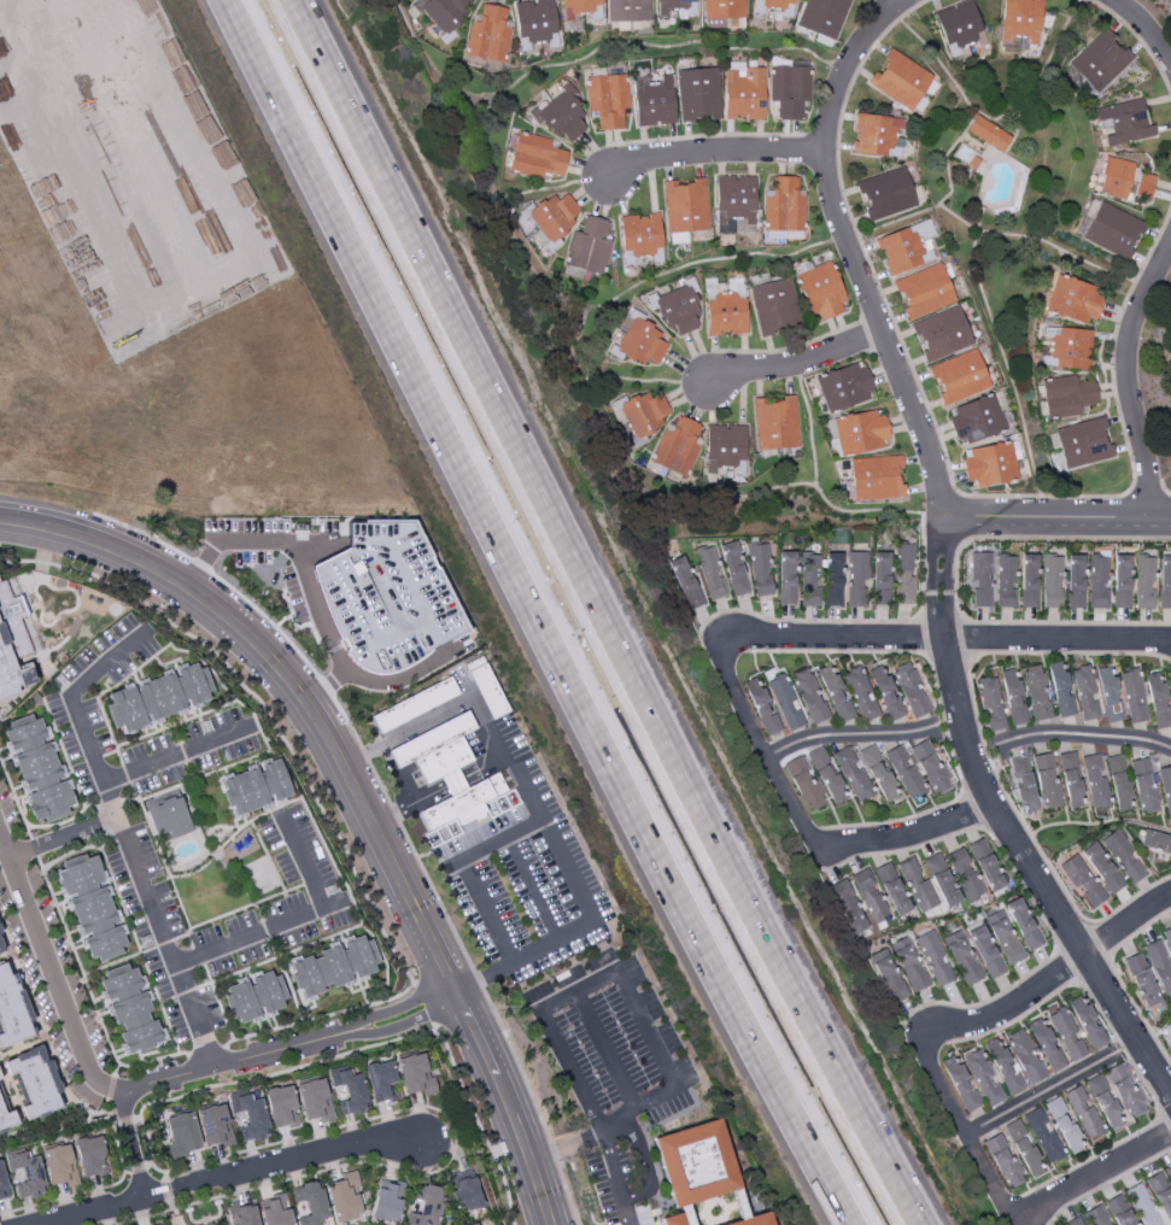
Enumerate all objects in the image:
road: (896, 1)
road: (917, 2)
building: (774, 5)
building: (580, 7)
building: (675, 7)
building: (724, 8)
building: (627, 10)
building: (822, 17)
building: (535, 19)
building: (1020, 20)
building: (959, 27)
road: (1144, 27)
building: (488, 35)
road: (1137, 40)
road: (587, 55)
building: (1100, 61)
road: (941, 64)
road: (843, 70)
road: (1040, 77)
building: (900, 80)
building: (789, 90)
building: (743, 92)
building: (697, 94)
building: (607, 100)
building: (654, 101)
building: (562, 116)
road: (993, 123)
building: (1123, 123)
building: (874, 134)
building: (988, 134)
road: (703, 136)
road: (819, 137)
road: (715, 151)
building: (535, 157)
road: (945, 159)
road: (1015, 162)
building: (1123, 180)
road: (538, 189)
building: (886, 193)
building: (734, 199)
building: (784, 205)
building: (685, 206)
building: (554, 216)
building: (1112, 230)
road: (994, 233)
building: (639, 235)
road: (844, 238)
building: (589, 246)
building: (906, 247)
road: (850, 253)
road: (679, 269)
building: (820, 291)
building: (924, 291)
building: (1073, 300)
building: (773, 306)
building: (725, 315)
road: (870, 318)
building: (942, 334)
road: (578, 338)
building: (640, 342)
building: (1070, 348)
road: (784, 351)
road: (1002, 351)
road: (796, 363)
road: (1125, 375)
building: (959, 376)
road: (627, 379)
building: (844, 387)
building: (1066, 395)
building: (644, 414)
building: (977, 420)
building: (777, 423)
road: (810, 430)
building: (861, 432)
road: (604, 433)
building: (1082, 442)
building: (677, 446)
building: (725, 449)
road: (945, 457)
building: (989, 464)
building: (876, 477)
road: (1165, 490)
road: (1143, 498)
road: (1055, 517)
road: (964, 518)
road: (144, 534)
road: (943, 540)
road: (254, 541)
road: (947, 555)
road: (931, 556)
road: (200, 564)
building: (733, 569)
building: (759, 569)
road: (40, 573)
building: (710, 573)
building: (903, 574)
building: (786, 578)
building: (880, 578)
building: (855, 579)
building: (809, 580)
building: (832, 580)
road: (956, 580)
building: (979, 580)
building: (1097, 580)
building: (1003, 581)
building: (1027, 581)
building: (1050, 581)
building: (1073, 581)
building: (1120, 581)
building: (1164, 581)
building: (685, 582)
building: (1143, 582)
road: (74, 592)
building: (387, 597)
parking garage: (387, 597)
building: (8, 599)
road: (318, 608)
road: (538, 615)
road: (602, 615)
road: (944, 615)
building: (300, 616)
road: (936, 616)
road: (854, 621)
road: (268, 622)
road: (845, 637)
road: (739, 638)
road: (1056, 638)
road: (960, 641)
road: (456, 649)
road: (878, 652)
road: (1031, 653)
road: (207, 668)
building: (11, 670)
road: (373, 681)
road: (324, 688)
building: (487, 688)
building: (1170, 688)
building: (909, 690)
building: (1060, 691)
road: (103, 692)
building: (885, 692)
building: (1036, 692)
building: (860, 693)
building: (1084, 693)
building: (835, 694)
building: (1108, 694)
building: (809, 696)
building: (1132, 696)
building: (1012, 697)
building: (159, 698)
building: (783, 698)
building: (1157, 701)
building: (990, 704)
building: (414, 705)
building: (761, 708)
road: (346, 721)
road: (257, 722)
road: (943, 722)
road: (175, 723)
road: (408, 731)
road: (1068, 734)
road: (861, 737)
building: (437, 749)
road: (761, 749)
road: (986, 751)
road: (64, 754)
road: (175, 754)
road: (364, 755)
building: (929, 767)
building: (37, 768)
road: (486, 768)
road: (287, 772)
building: (903, 772)
building: (878, 773)
road: (125, 775)
road: (204, 775)
building: (826, 775)
building: (853, 775)
building: (1070, 780)
building: (455, 781)
building: (1046, 781)
road: (379, 783)
building: (1094, 783)
road: (455, 784)
building: (803, 784)
building: (1118, 784)
building: (1023, 785)
building: (1143, 786)
building: (256, 787)
building: (1165, 790)
road: (311, 795)
road: (357, 795)
road: (16, 799)
road: (128, 799)
road: (226, 802)
road: (109, 804)
road: (408, 805)
road: (972, 805)
road: (275, 809)
road: (929, 810)
building: (467, 811)
road: (394, 814)
building: (169, 817)
road: (103, 820)
road: (64, 823)
road: (1100, 823)
road: (906, 836)
road: (63, 837)
road: (125, 837)
road: (104, 839)
building: (1155, 842)
road: (33, 848)
road: (160, 855)
road: (213, 856)
building: (1123, 856)
road: (267, 857)
road: (332, 861)
road: (564, 863)
building: (985, 864)
road: (464, 868)
building: (1101, 868)
building: (965, 874)
road: (1034, 874)
park: (259, 877)
road: (233, 880)
building: (942, 880)
building: (1082, 881)
road: (1060, 885)
road: (533, 886)
building: (917, 886)
building: (892, 889)
road: (1024, 889)
road: (279, 893)
building: (868, 895)
road: (437, 898)
building: (848, 907)
building: (92, 909)
road: (221, 915)
road: (297, 918)
road: (128, 921)
building: (1023, 924)
road: (265, 931)
building: (1167, 937)
building: (1003, 938)
road: (189, 942)
road: (163, 943)
road: (1055, 944)
building: (0, 949)
road: (148, 950)
road: (271, 950)
building: (984, 950)
road: (286, 954)
road: (198, 956)
building: (961, 957)
building: (935, 959)
road: (383, 960)
road: (111, 963)
building: (909, 963)
building: (334, 966)
road: (614, 972)
building: (1149, 973)
building: (888, 975)
road: (1118, 979)
road: (1047, 980)
road: (478, 981)
road: (204, 985)
road: (414, 985)
road: (289, 989)
road: (185, 992)
road: (89, 995)
building: (254, 996)
road: (166, 1000)
road: (1043, 1001)
road: (218, 1002)
road: (426, 1004)
road: (405, 1006)
building: (130, 1008)
building: (12, 1009)
road: (410, 1022)
building: (1087, 1022)
road: (433, 1027)
building: (1066, 1034)
building: (1170, 1038)
building: (1046, 1044)
road: (607, 1048)
road: (1122, 1049)
road: (158, 1051)
road: (206, 1051)
road: (140, 1057)
building: (1025, 1057)
road: (517, 1065)
building: (1003, 1066)
road: (116, 1068)
building: (415, 1074)
building: (379, 1079)
building: (983, 1079)
road: (99, 1080)
building: (34, 1082)
building: (960, 1083)
road: (110, 1086)
road: (1053, 1088)
building: (1124, 1090)
building: (349, 1091)
road: (12, 1095)
building: (314, 1098)
building: (1105, 1104)
road: (104, 1106)
building: (281, 1107)
road: (87, 1110)
building: (1083, 1112)
building: (250, 1116)
road: (1160, 1118)
building: (6, 1119)
road: (98, 1119)
road: (51, 1123)
building: (215, 1125)
building: (1064, 1126)
road: (967, 1133)
building: (181, 1135)
building: (1043, 1136)
road: (131, 1142)
road: (1118, 1143)
road: (564, 1145)
building: (1023, 1148)
road: (551, 1150)
building: (90, 1156)
road: (213, 1159)
building: (1002, 1161)
building: (697, 1164)
building: (59, 1165)
road: (644, 1166)
building: (1169, 1170)
building: (25, 1173)
road: (1089, 1176)
road: (228, 1177)
road: (616, 1178)
building: (2, 1183)
road: (1107, 1184)
road: (165, 1190)
road: (564, 1192)
building: (466, 1194)
building: (342, 1197)
building: (1152, 1200)
building: (387, 1201)
building: (310, 1202)
building: (425, 1205)
building: (1119, 1211)
road: (219, 1212)
building: (274, 1212)
building: (241, 1214)
building: (1097, 1215)
road: (638, 1219)
building: (671, 1220)
building: (756, 1220)
road: (192, 1221)
building: (1075, 1221)
building: (474, 1224)

